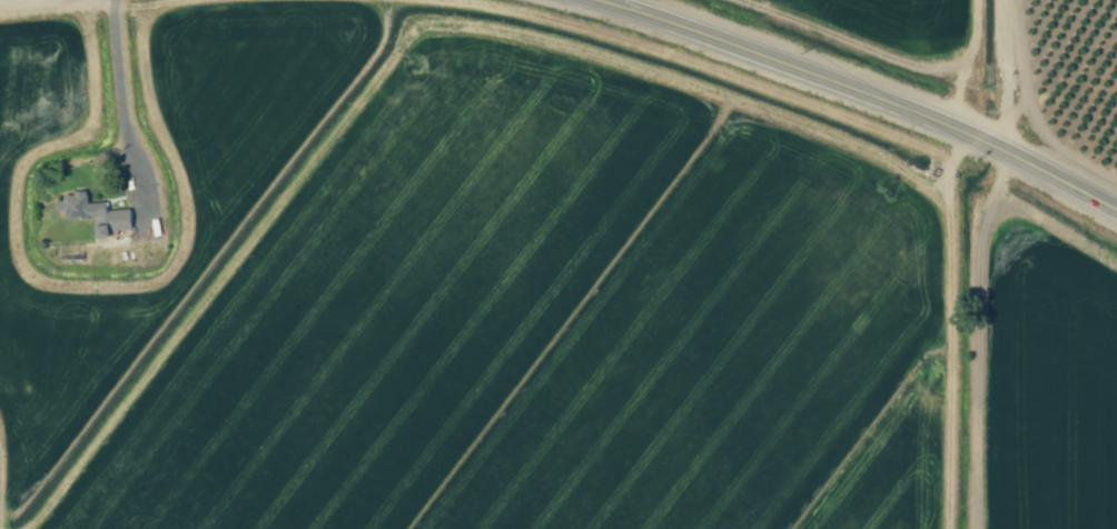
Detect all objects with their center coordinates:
road: (838, 90)
road: (121, 99)
building: (97, 214)
crop: (542, 325)
crop: (1045, 385)

